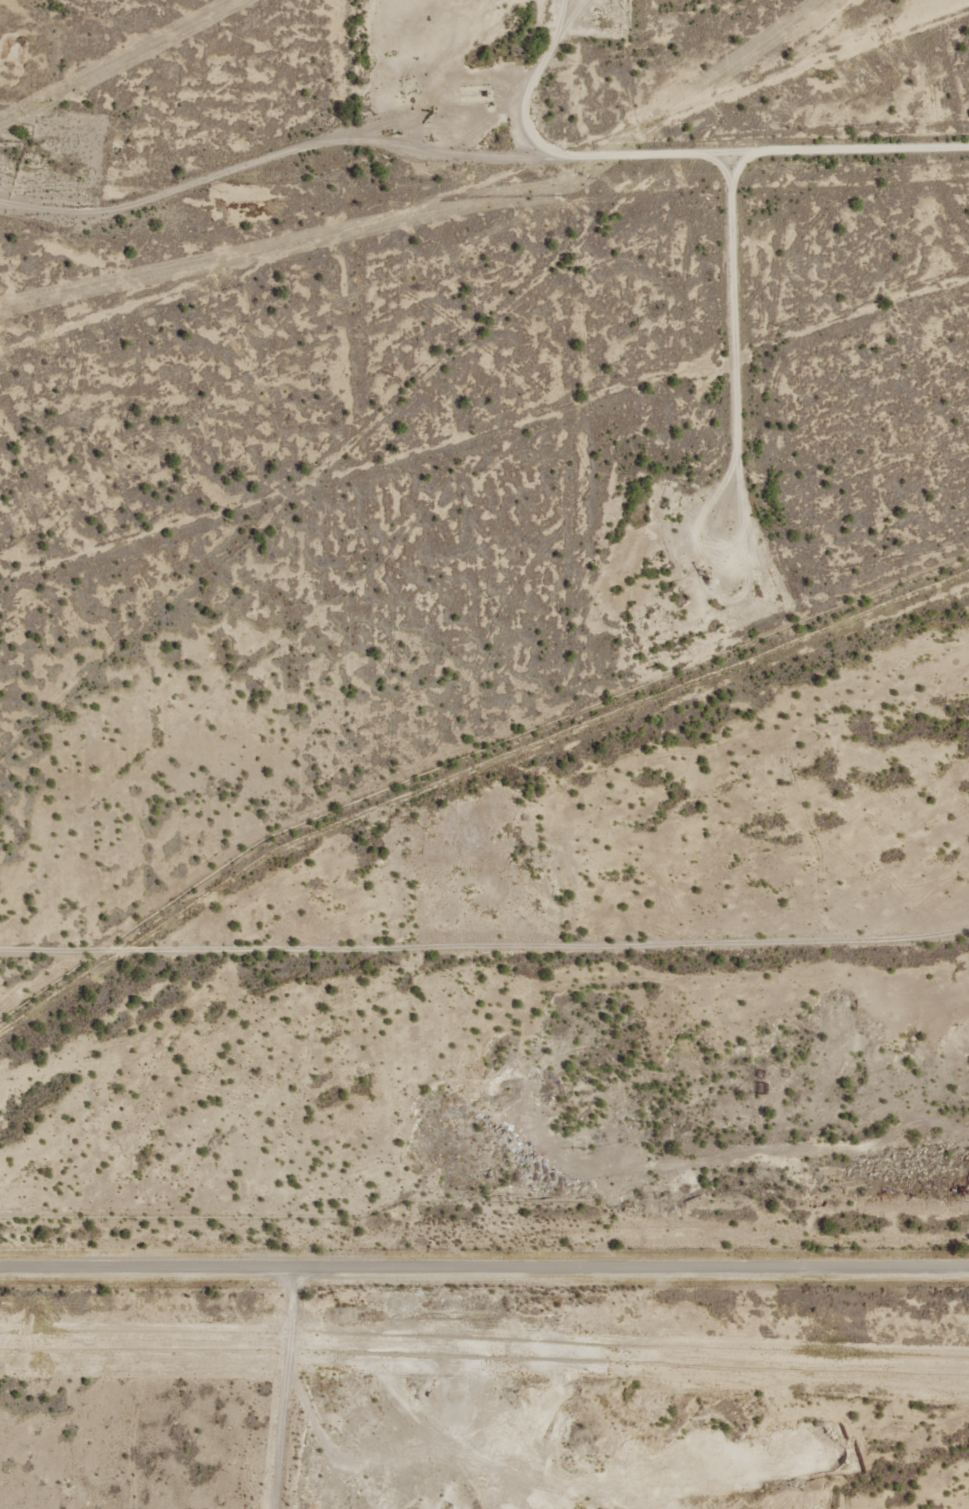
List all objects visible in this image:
road: (537, 41)
road: (484, 1254)

